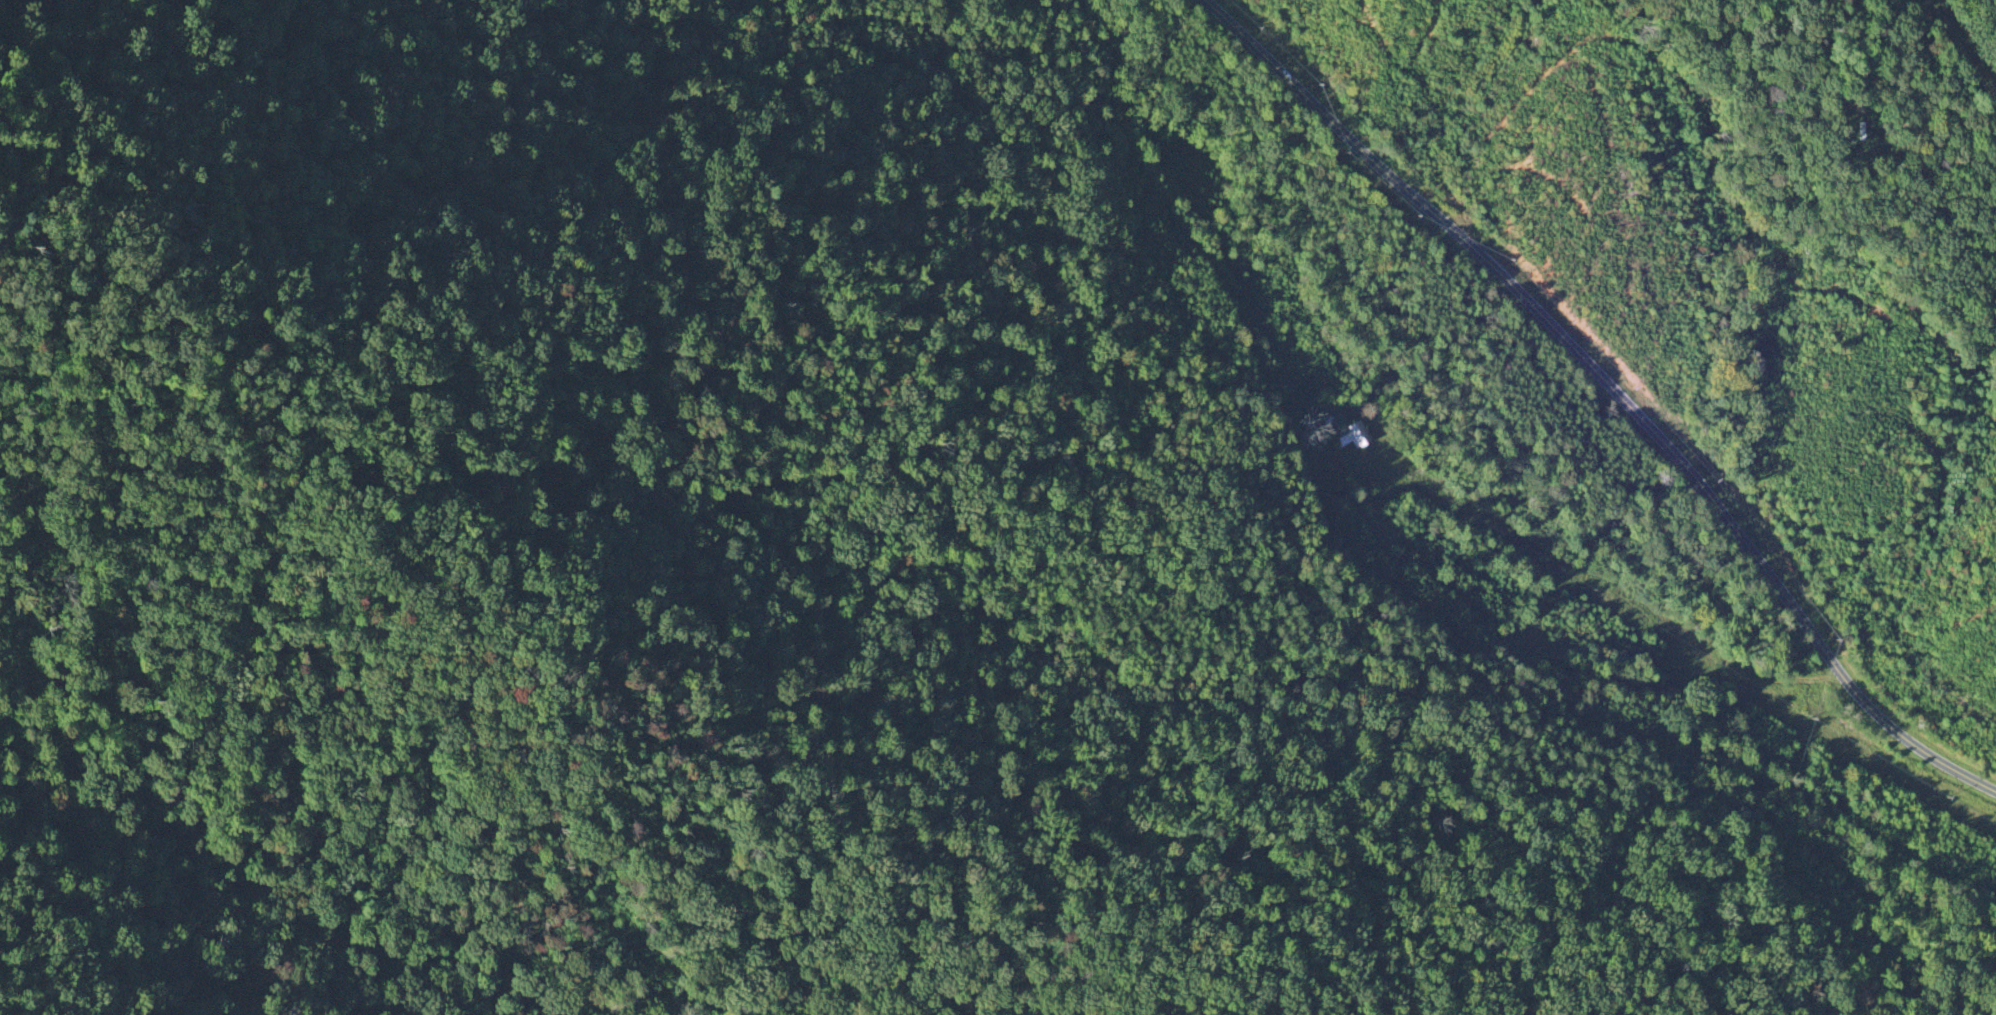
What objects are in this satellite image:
road: (1873, 36)
road: (1957, 43)
road: (22, 155)
road: (1614, 386)
road: (1418, 472)

